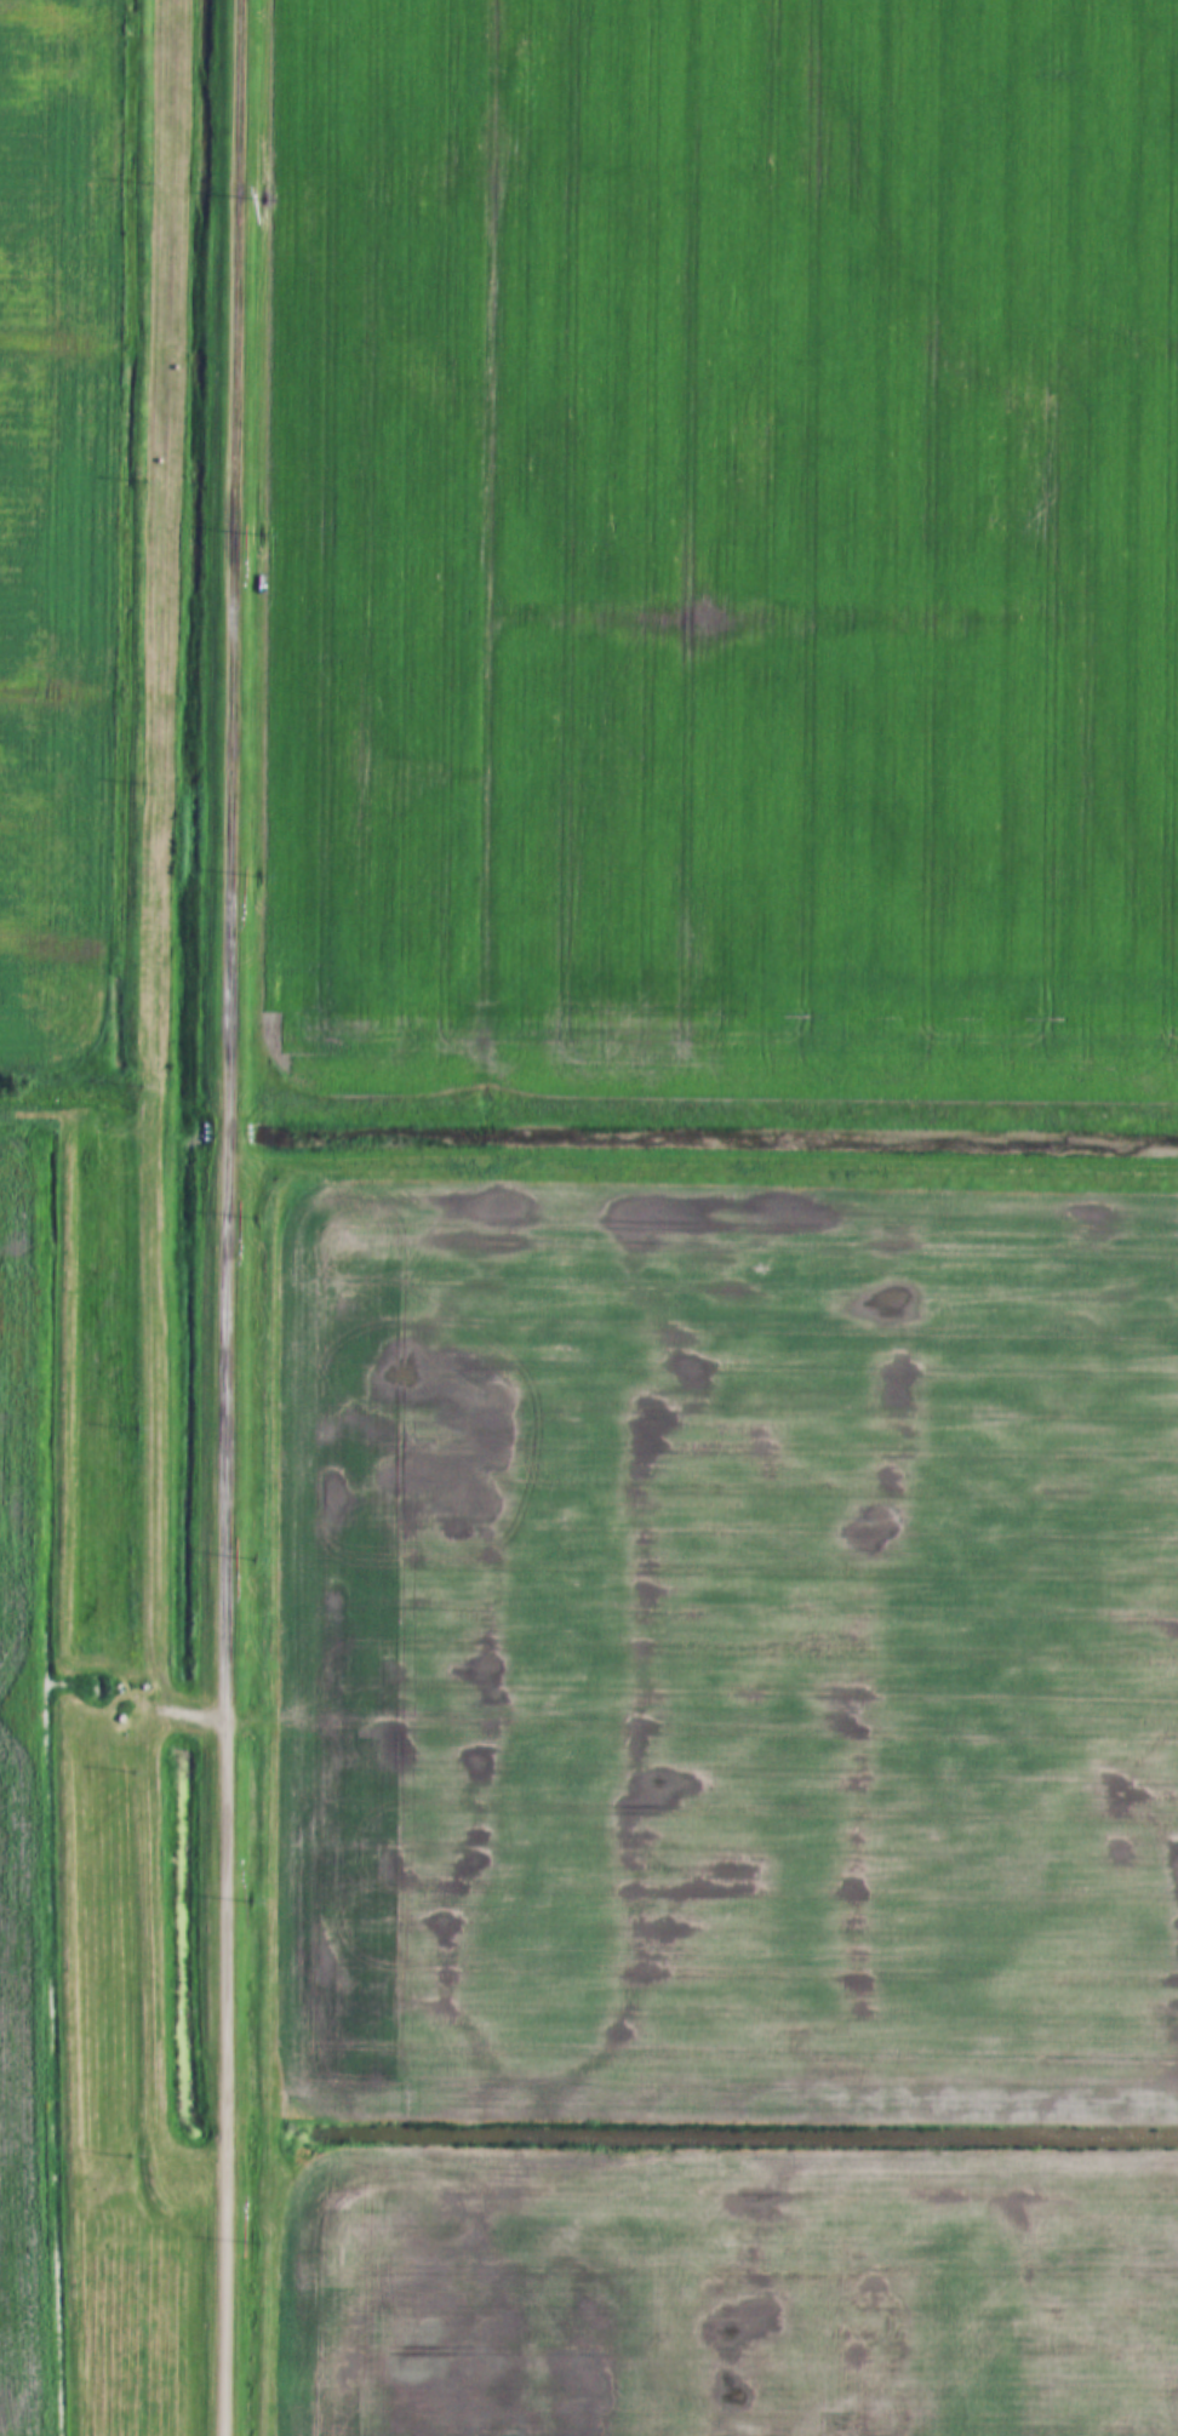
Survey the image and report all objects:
crop: (55, 532)
road: (234, 1218)
crop: (47, 1738)

